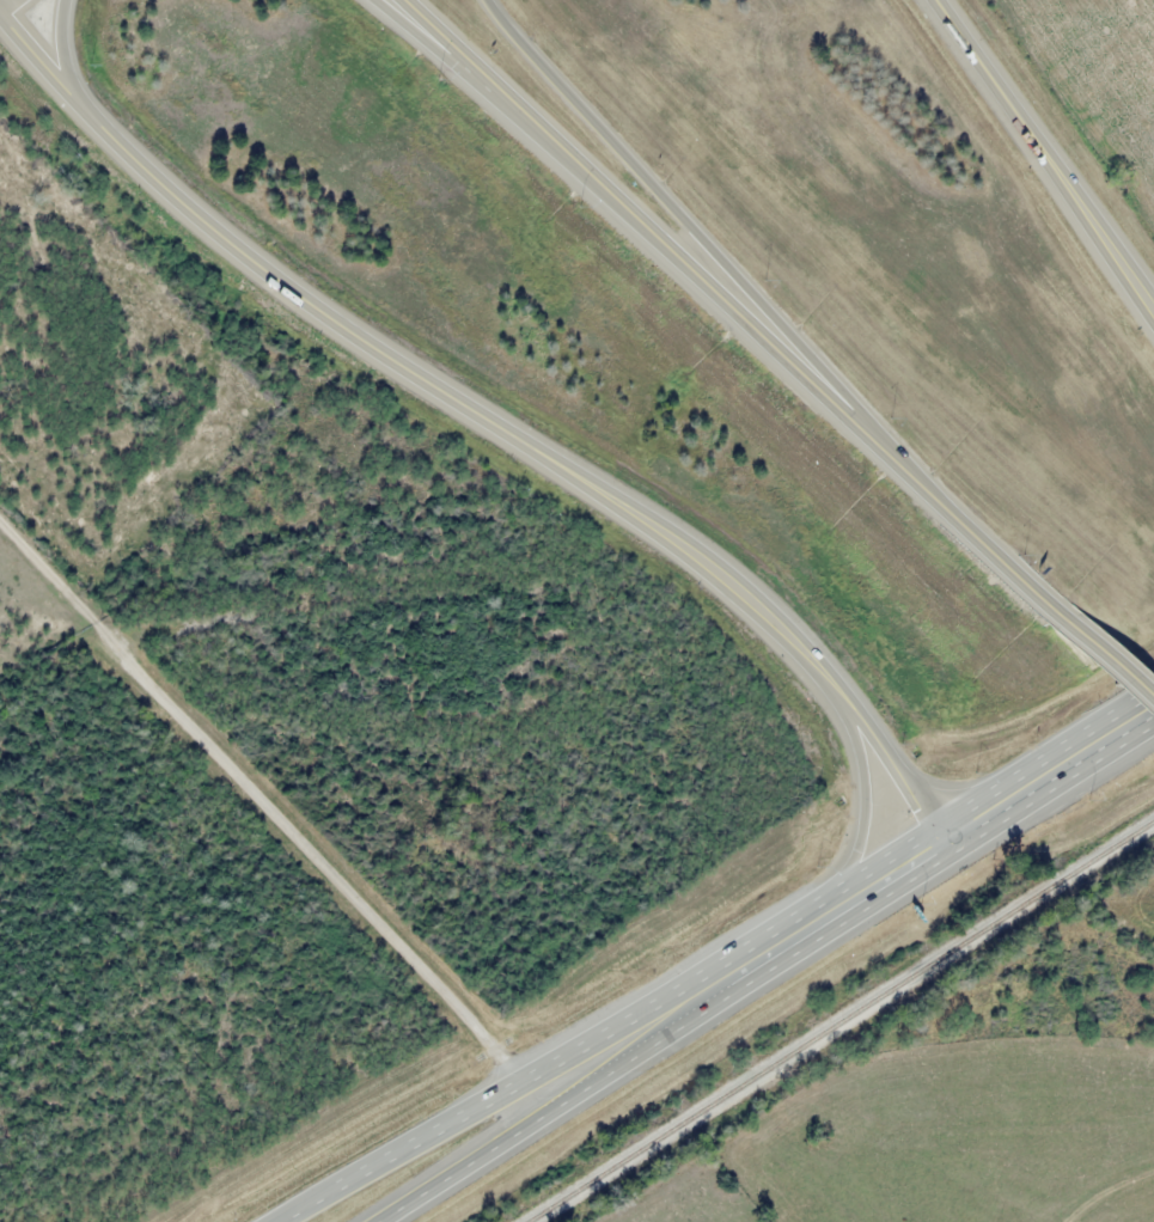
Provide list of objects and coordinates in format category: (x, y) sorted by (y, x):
road: (6, 5)
road: (66, 65)
road: (47, 69)
road: (548, 136)
road: (529, 138)
road: (1044, 154)
road: (688, 225)
road: (788, 363)
road: (547, 453)
road: (971, 534)
road: (1106, 661)
road: (1046, 770)
road: (862, 792)
road: (842, 899)
railway: (844, 1024)
road: (507, 1084)
road: (566, 1098)

